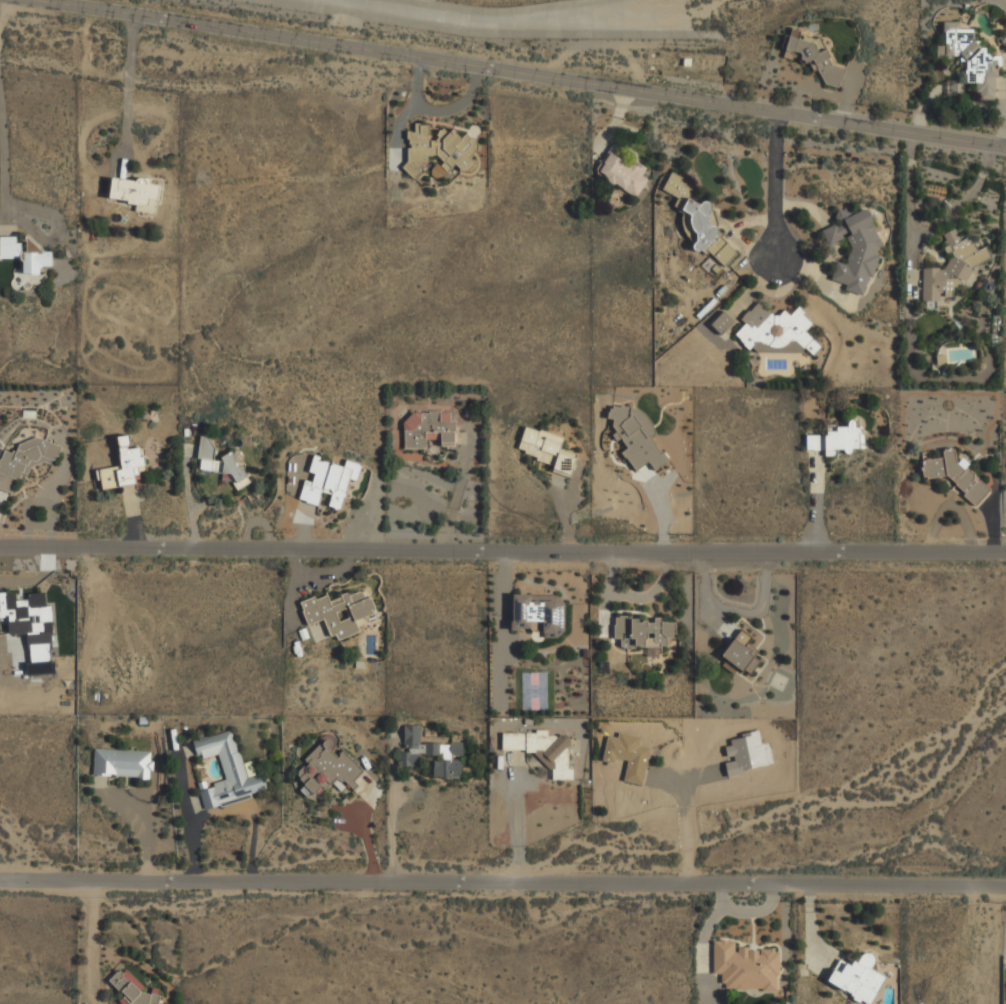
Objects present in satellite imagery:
building: (970, 58)
building: (813, 59)
road: (513, 72)
building: (438, 149)
building: (622, 171)
road: (777, 187)
building: (135, 193)
building: (700, 221)
road: (927, 228)
building: (854, 249)
building: (24, 255)
building: (952, 268)
building: (722, 322)
building: (776, 328)
building: (428, 429)
building: (636, 436)
building: (837, 439)
building: (546, 449)
building: (24, 460)
building: (220, 464)
building: (123, 467)
building: (955, 475)
building: (330, 480)
road: (815, 501)
road: (502, 545)
building: (340, 611)
building: (540, 613)
building: (31, 627)
building: (644, 632)
building: (740, 655)
park: (533, 691)
building: (543, 748)
building: (431, 753)
building: (745, 753)
building: (628, 755)
building: (123, 763)
building: (329, 767)
building: (227, 771)
road: (503, 875)
road: (86, 937)
building: (746, 967)
building: (858, 978)
building: (134, 989)

